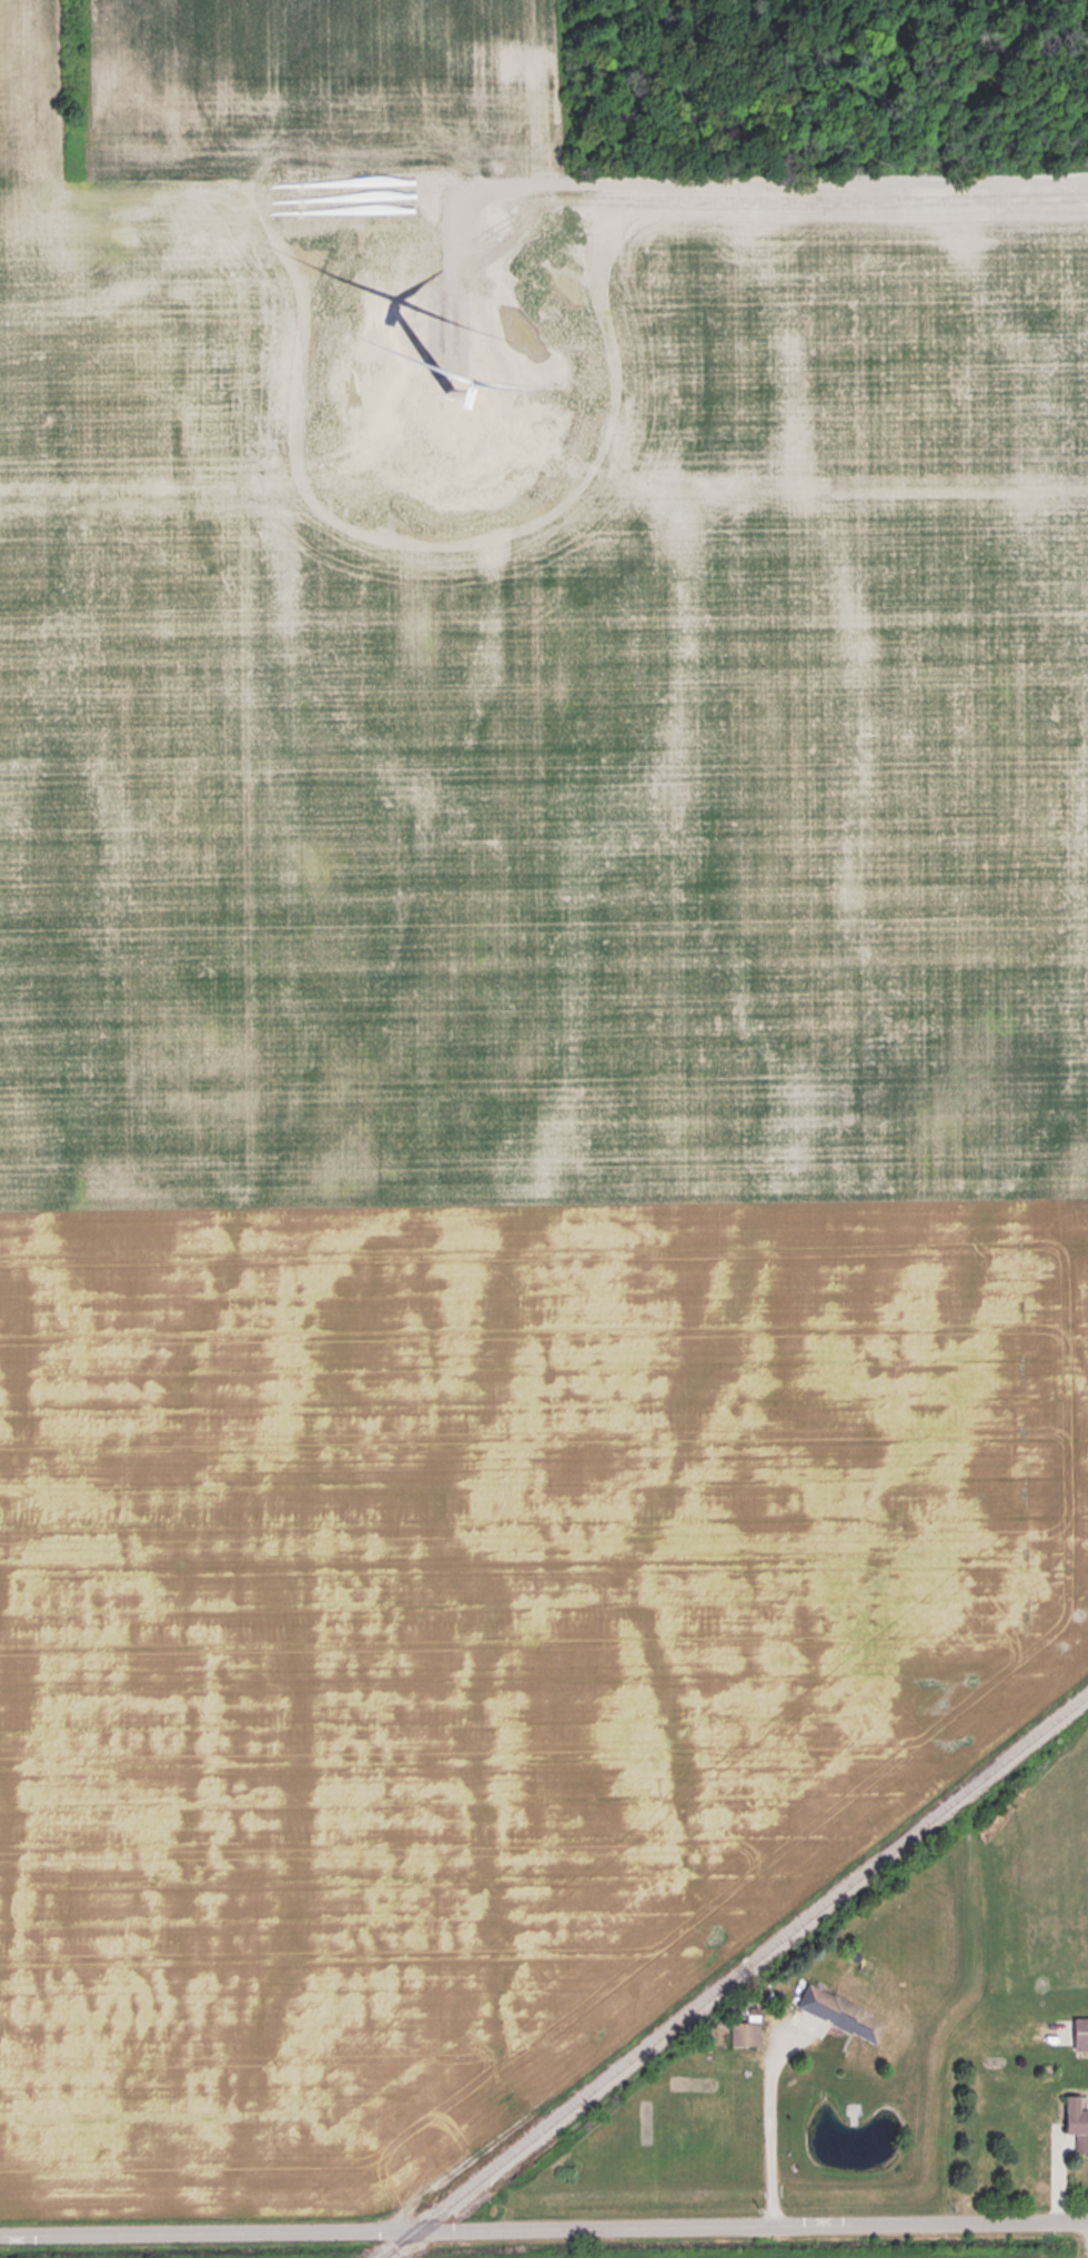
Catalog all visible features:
wind turbine: (447, 386)
railway: (735, 1976)
building: (844, 2012)
building: (747, 2032)
building: (1078, 2119)
road: (768, 2128)
road: (543, 2228)
railway: (383, 2256)

